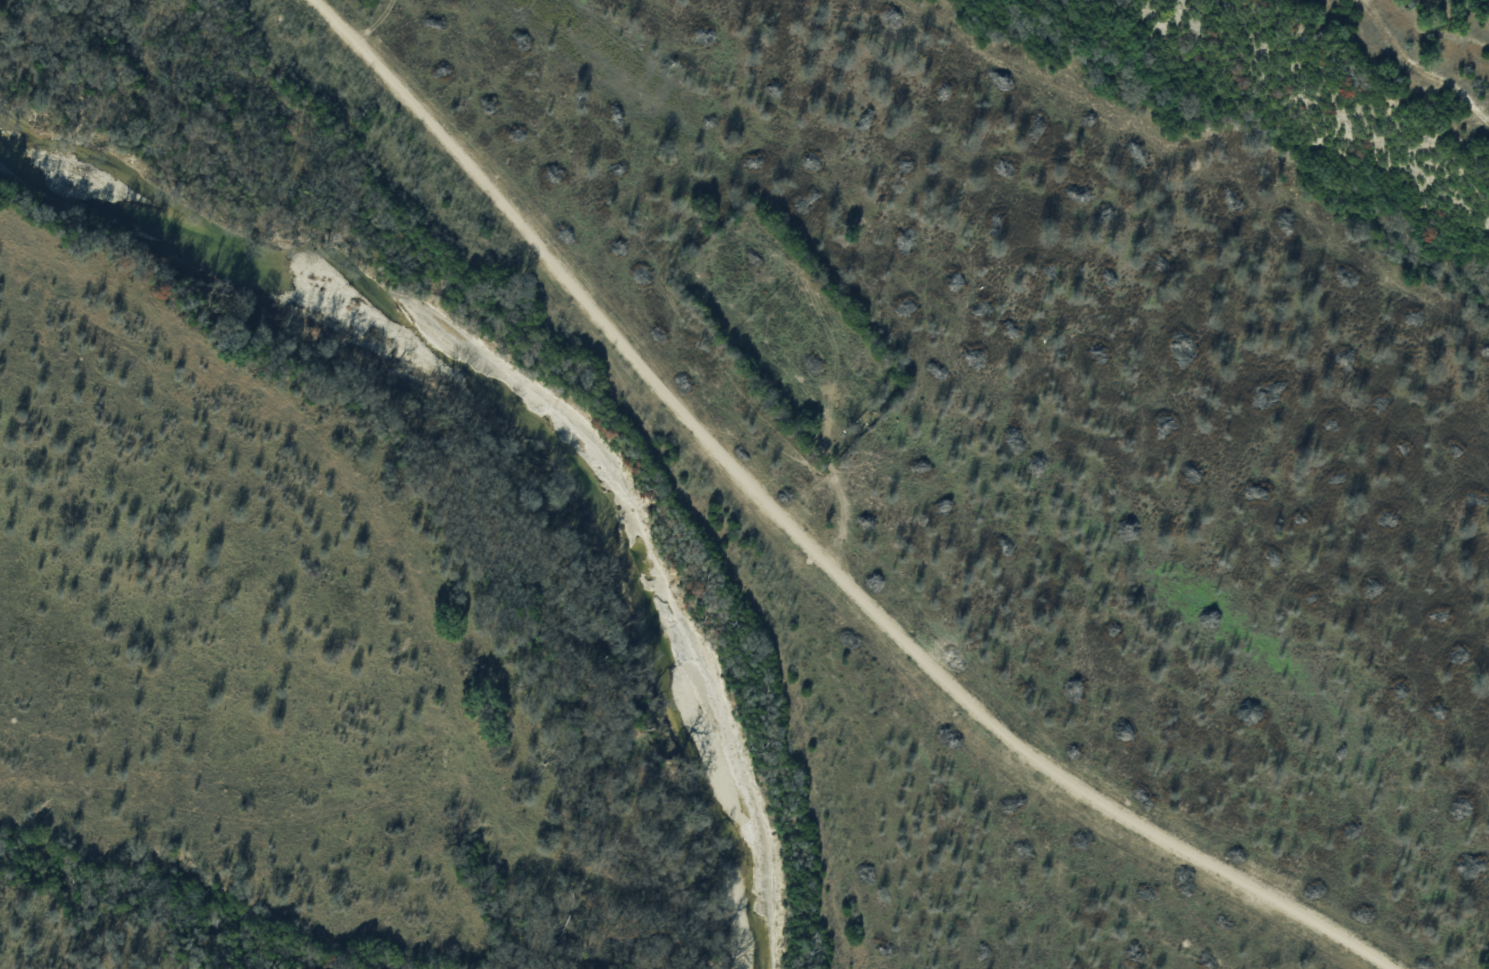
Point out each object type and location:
river: (542, 413)
road: (813, 543)

